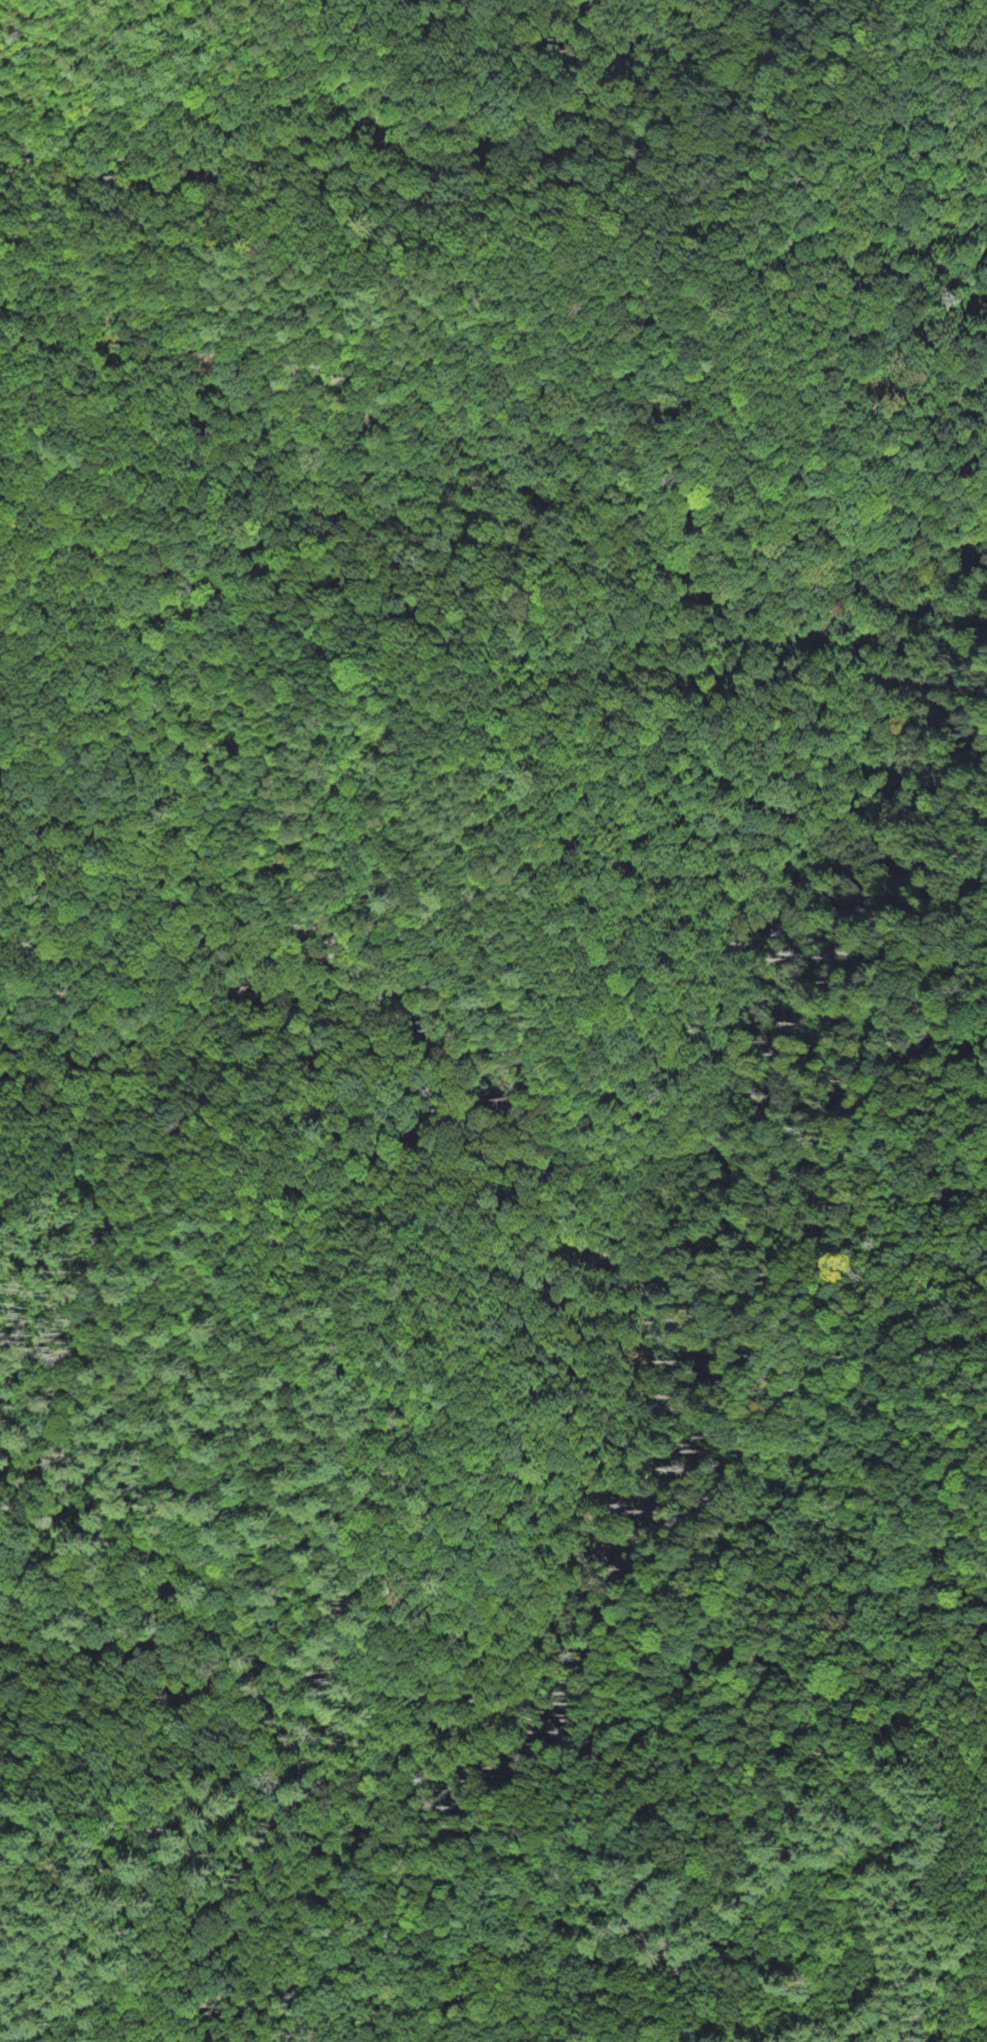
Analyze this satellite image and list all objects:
road: (655, 1888)

